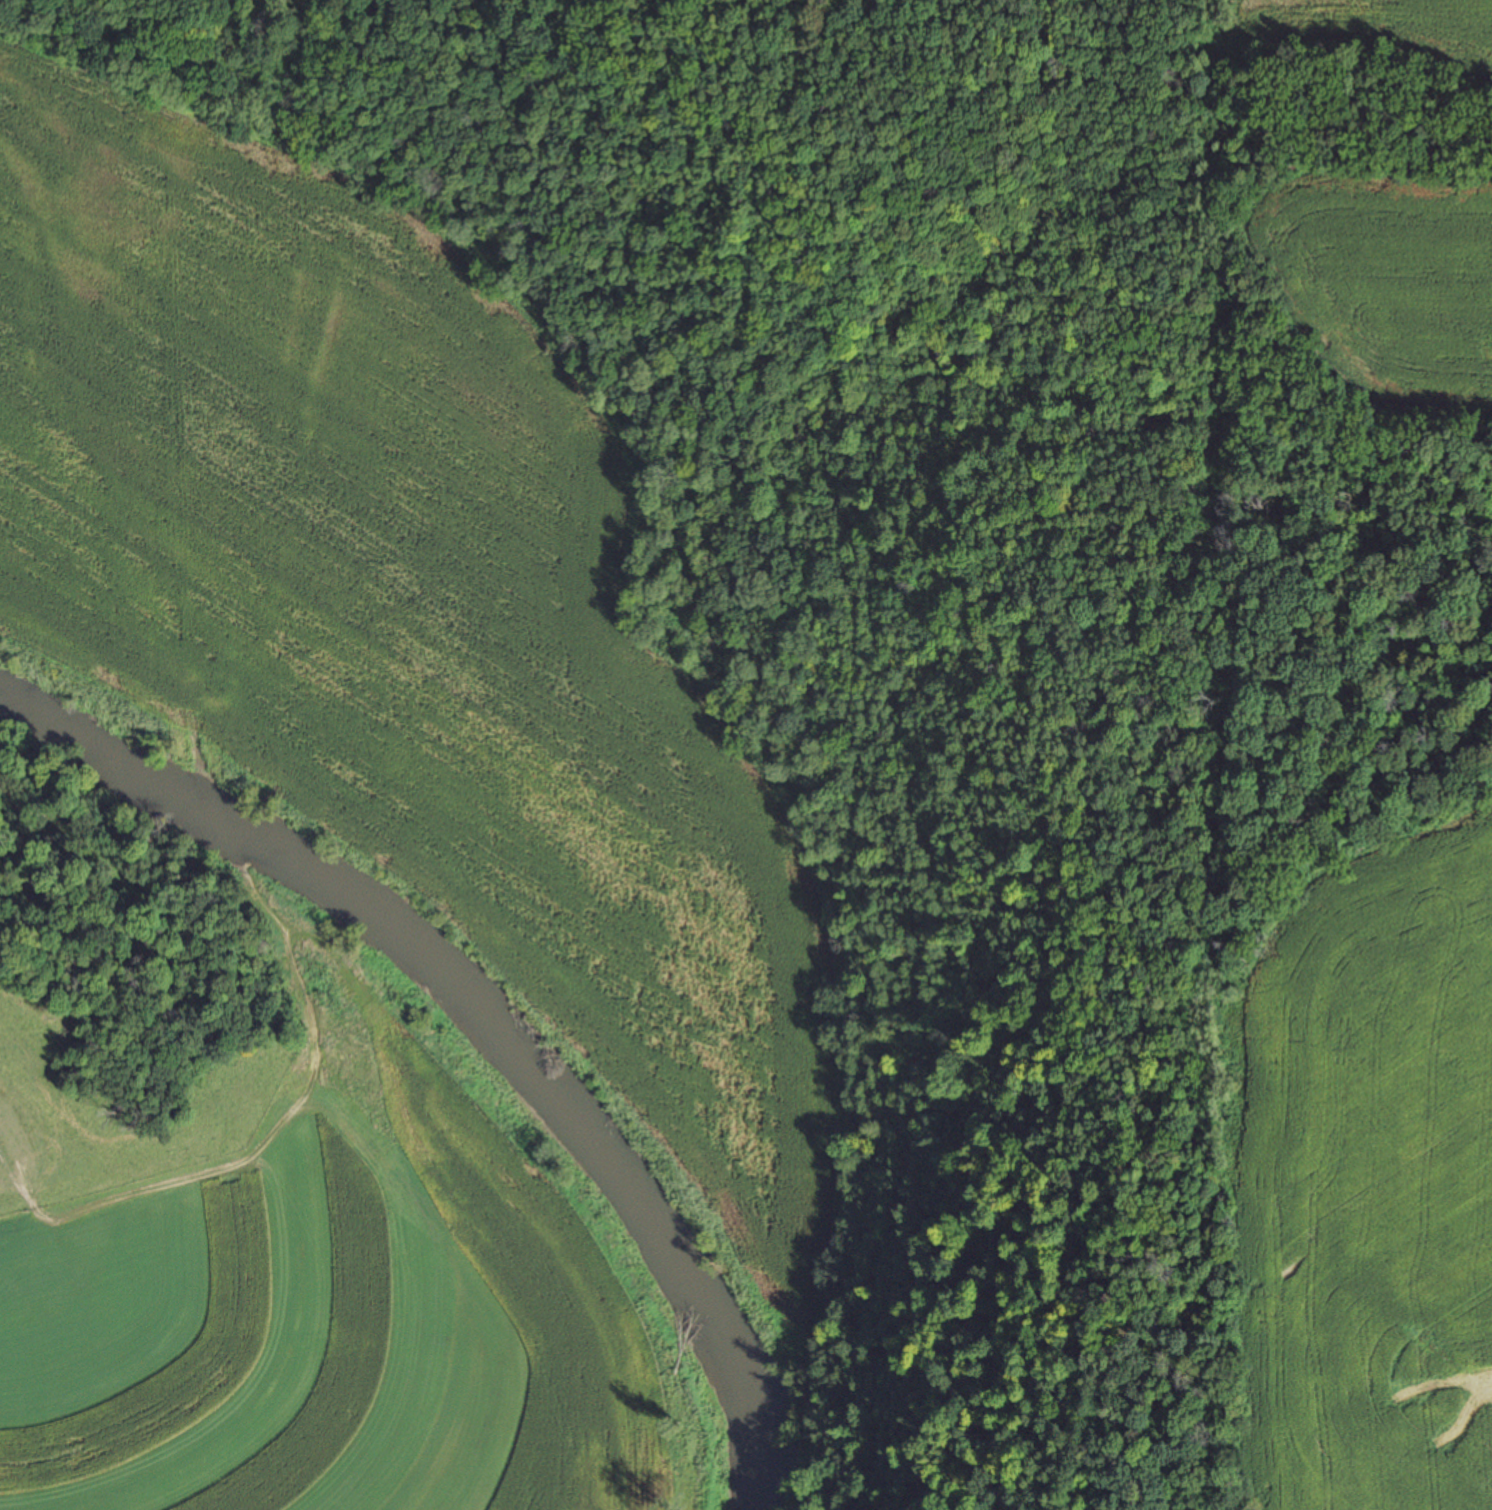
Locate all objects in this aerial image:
river: (463, 1064)
road: (166, 1184)
building: (9, 1206)

